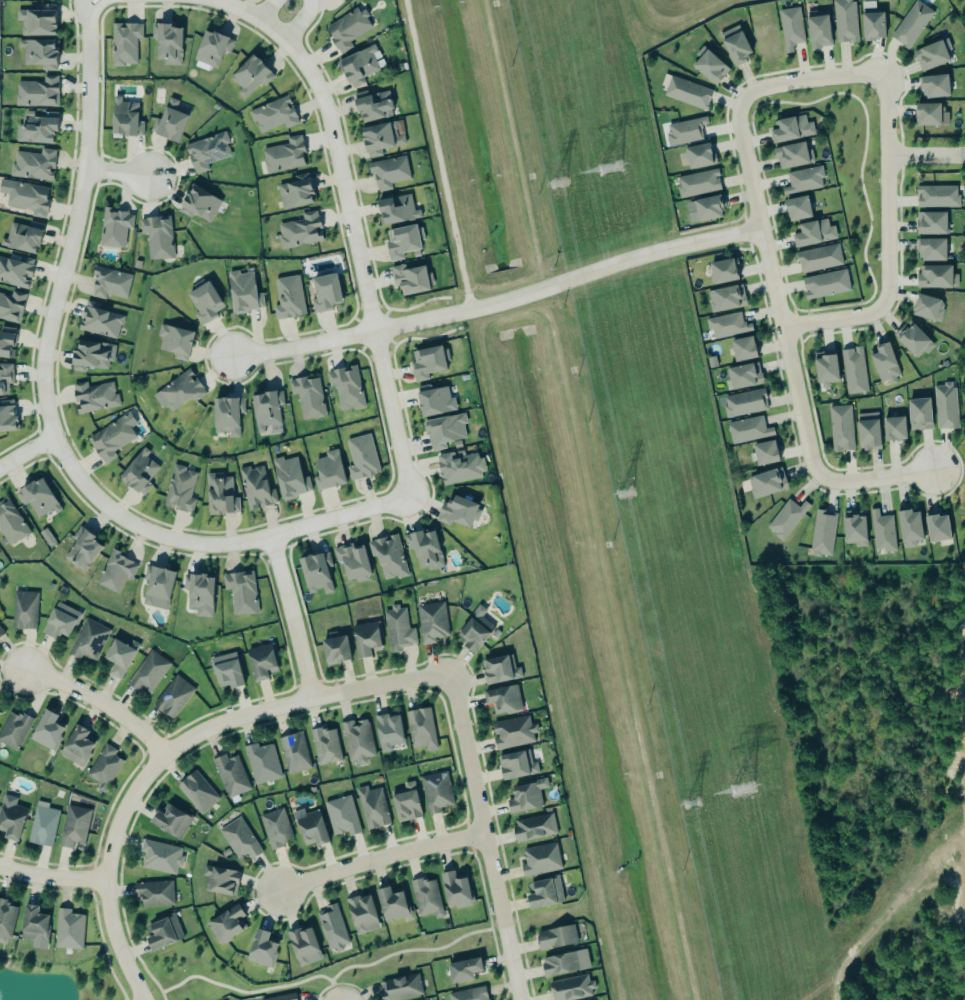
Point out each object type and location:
building: (50, 0)
road: (91, 3)
road: (265, 9)
building: (38, 20)
road: (298, 20)
building: (845, 21)
building: (911, 23)
building: (872, 25)
building: (789, 26)
building: (346, 27)
building: (818, 29)
building: (123, 41)
building: (168, 43)
building: (734, 43)
building: (211, 47)
building: (38, 51)
building: (932, 54)
building: (708, 60)
building: (359, 66)
building: (249, 75)
road: (812, 85)
building: (934, 86)
building: (36, 91)
building: (686, 92)
building: (372, 105)
building: (929, 111)
building: (272, 113)
building: (124, 117)
building: (170, 120)
building: (34, 127)
building: (791, 129)
building: (684, 130)
building: (381, 135)
building: (206, 149)
building: (283, 154)
building: (698, 155)
building: (791, 155)
building: (33, 163)
road: (926, 167)
power tower: (611, 168)
road: (115, 169)
building: (389, 172)
building: (804, 180)
power tower: (556, 182)
building: (698, 183)
building: (295, 191)
road: (888, 194)
building: (937, 196)
building: (26, 197)
building: (198, 203)
building: (395, 208)
building: (708, 208)
building: (798, 208)
building: (930, 221)
road: (349, 222)
building: (113, 226)
building: (300, 230)
building: (812, 231)
building: (157, 235)
building: (21, 237)
building: (402, 240)
building: (931, 249)
building: (817, 256)
building: (722, 270)
building: (15, 271)
building: (934, 273)
building: (409, 278)
building: (110, 283)
building: (824, 283)
road: (769, 285)
building: (242, 291)
building: (324, 291)
road: (496, 295)
building: (725, 295)
building: (288, 298)
building: (204, 302)
building: (11, 305)
building: (926, 306)
road: (836, 317)
building: (98, 319)
building: (725, 323)
building: (911, 338)
building: (174, 340)
building: (7, 341)
building: (742, 348)
building: (91, 354)
building: (427, 361)
building: (883, 362)
building: (826, 364)
building: (852, 369)
building: (743, 374)
building: (4, 376)
building: (345, 386)
building: (180, 389)
building: (94, 396)
building: (307, 396)
building: (434, 400)
building: (743, 401)
building: (944, 404)
building: (265, 408)
building: (918, 413)
building: (226, 414)
building: (7, 418)
road: (49, 422)
building: (839, 427)
building: (746, 428)
building: (894, 428)
building: (443, 429)
building: (866, 430)
building: (112, 437)
road: (27, 450)
building: (765, 452)
building: (360, 456)
building: (458, 467)
building: (329, 471)
building: (140, 473)
building: (288, 478)
building: (765, 481)
building: (254, 486)
road: (866, 487)
building: (178, 488)
power tower: (622, 492)
building: (219, 494)
building: (38, 498)
building: (457, 511)
building: (785, 518)
building: (11, 523)
building: (910, 527)
building: (937, 528)
building: (853, 529)
building: (881, 530)
building: (821, 531)
building: (81, 548)
building: (423, 549)
building: (387, 555)
building: (352, 561)
building: (114, 570)
building: (315, 573)
building: (156, 584)
building: (241, 592)
building: (199, 593)
building: (24, 610)
road: (286, 615)
building: (61, 621)
building: (430, 621)
building: (396, 628)
building: (475, 630)
building: (1, 631)
building: (366, 638)
building: (87, 639)
building: (335, 650)
building: (118, 656)
building: (261, 661)
building: (499, 669)
building: (225, 670)
building: (148, 672)
building: (173, 695)
building: (502, 698)
road: (97, 704)
building: (13, 728)
building: (420, 728)
building: (388, 729)
building: (47, 730)
building: (512, 731)
building: (357, 740)
building: (326, 745)
building: (76, 746)
road: (174, 746)
building: (294, 753)
building: (260, 762)
building: (516, 765)
building: (104, 767)
building: (229, 774)
power tower: (740, 790)
building: (435, 791)
building: (197, 792)
building: (526, 796)
road: (473, 799)
building: (405, 803)
power tower: (688, 803)
building: (371, 807)
building: (9, 814)
building: (340, 814)
building: (171, 820)
building: (41, 825)
building: (74, 826)
building: (309, 827)
building: (534, 827)
building: (275, 828)
building: (238, 838)
building: (159, 856)
road: (376, 857)
building: (540, 859)
building: (219, 879)
road: (53, 880)
building: (455, 890)
building: (543, 891)
building: (154, 892)
building: (425, 897)
building: (391, 904)
building: (362, 913)
building: (5, 919)
building: (33, 921)
building: (227, 924)
building: (331, 927)
building: (68, 929)
building: (163, 932)
building: (555, 936)
building: (301, 944)
building: (261, 948)
building: (563, 962)
road: (509, 963)
building: (463, 969)
building: (400, 987)
building: (571, 988)
building: (469, 994)
building: (281, 996)

